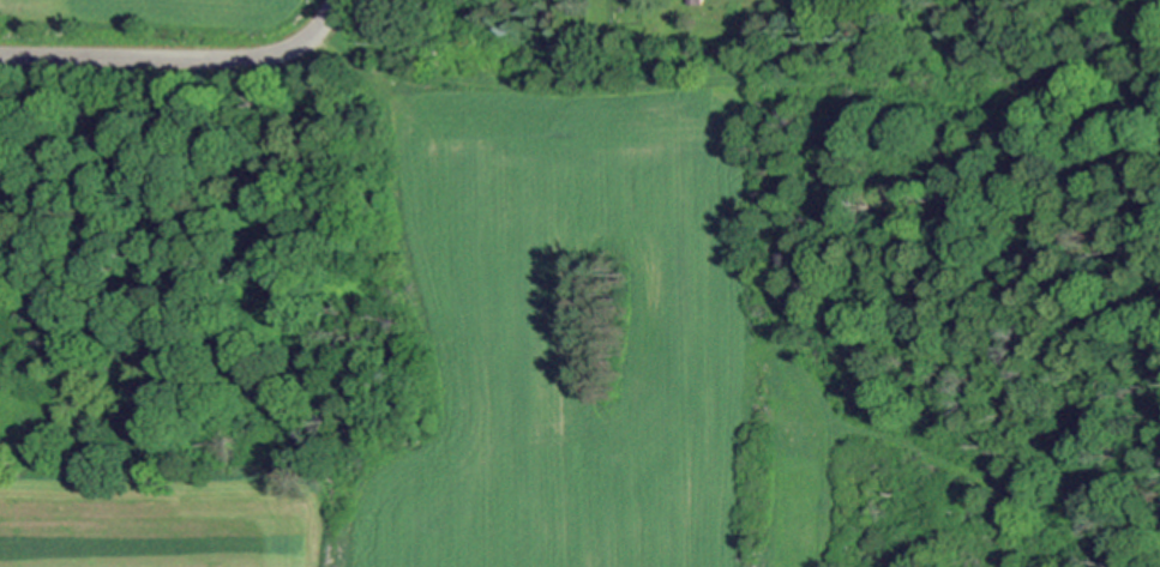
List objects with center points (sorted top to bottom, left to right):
road: (174, 54)

